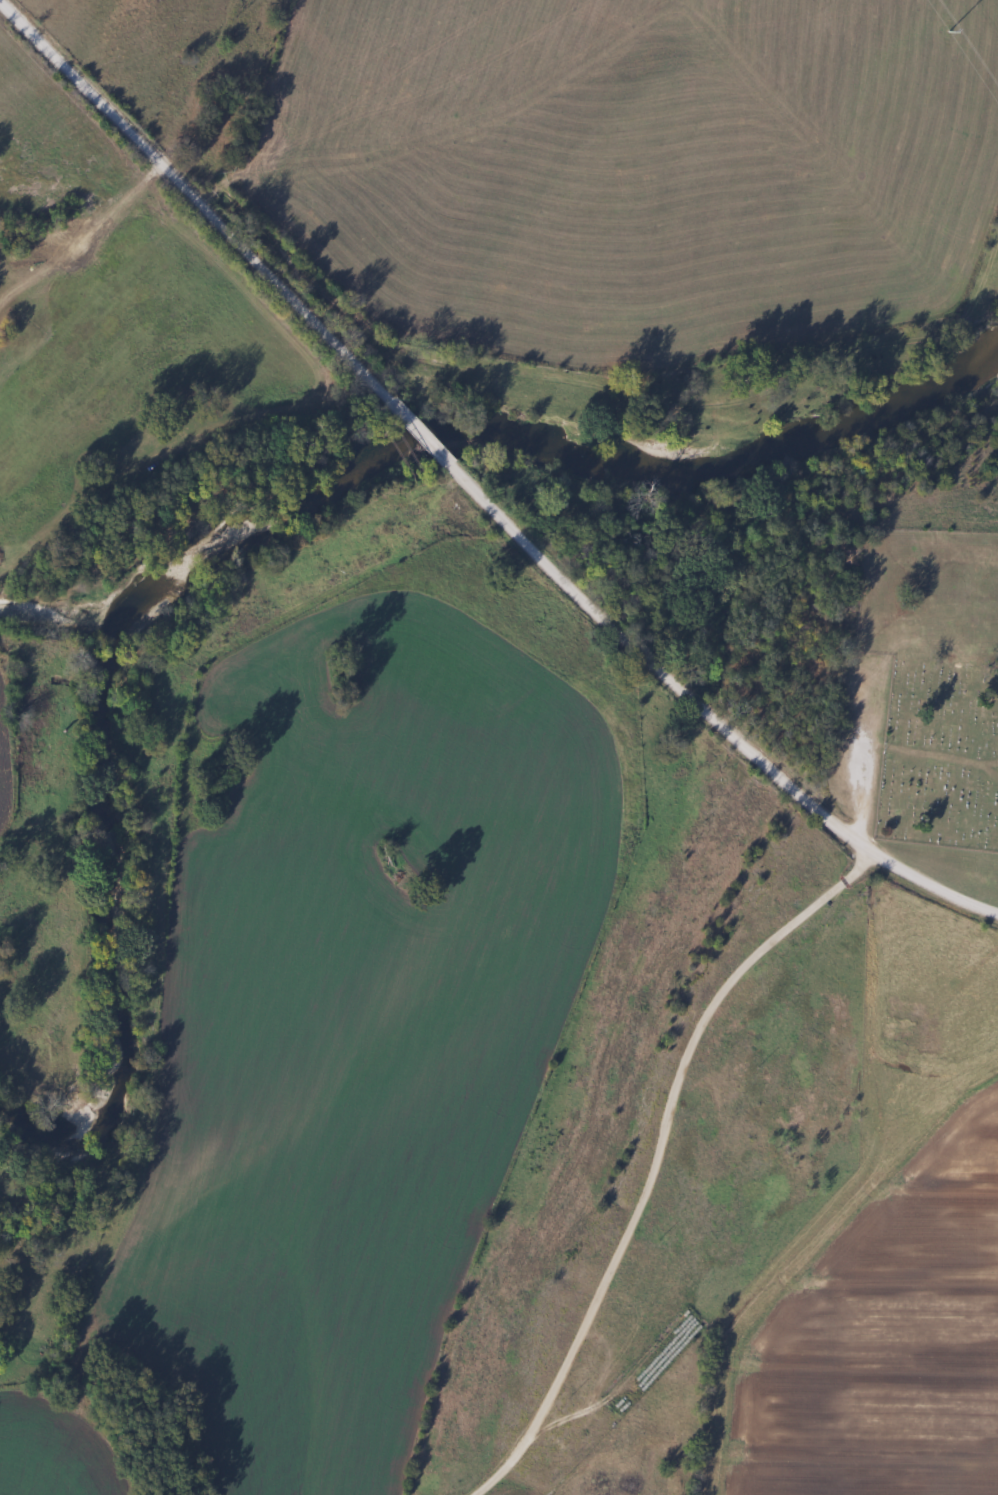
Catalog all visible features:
road: (280, 117)
road: (200, 199)
road: (427, 436)
river: (782, 457)
river: (317, 493)
road: (717, 715)
park: (939, 756)
river: (125, 926)
road: (631, 1166)

